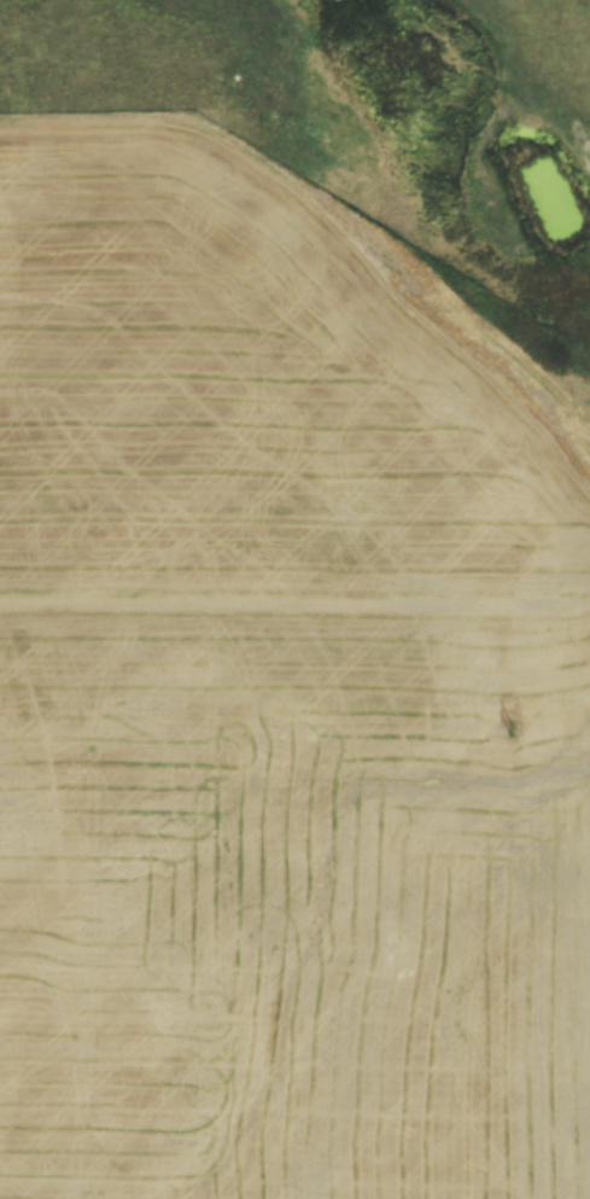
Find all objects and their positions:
power tower: (510, 733)
building: (363, 994)

